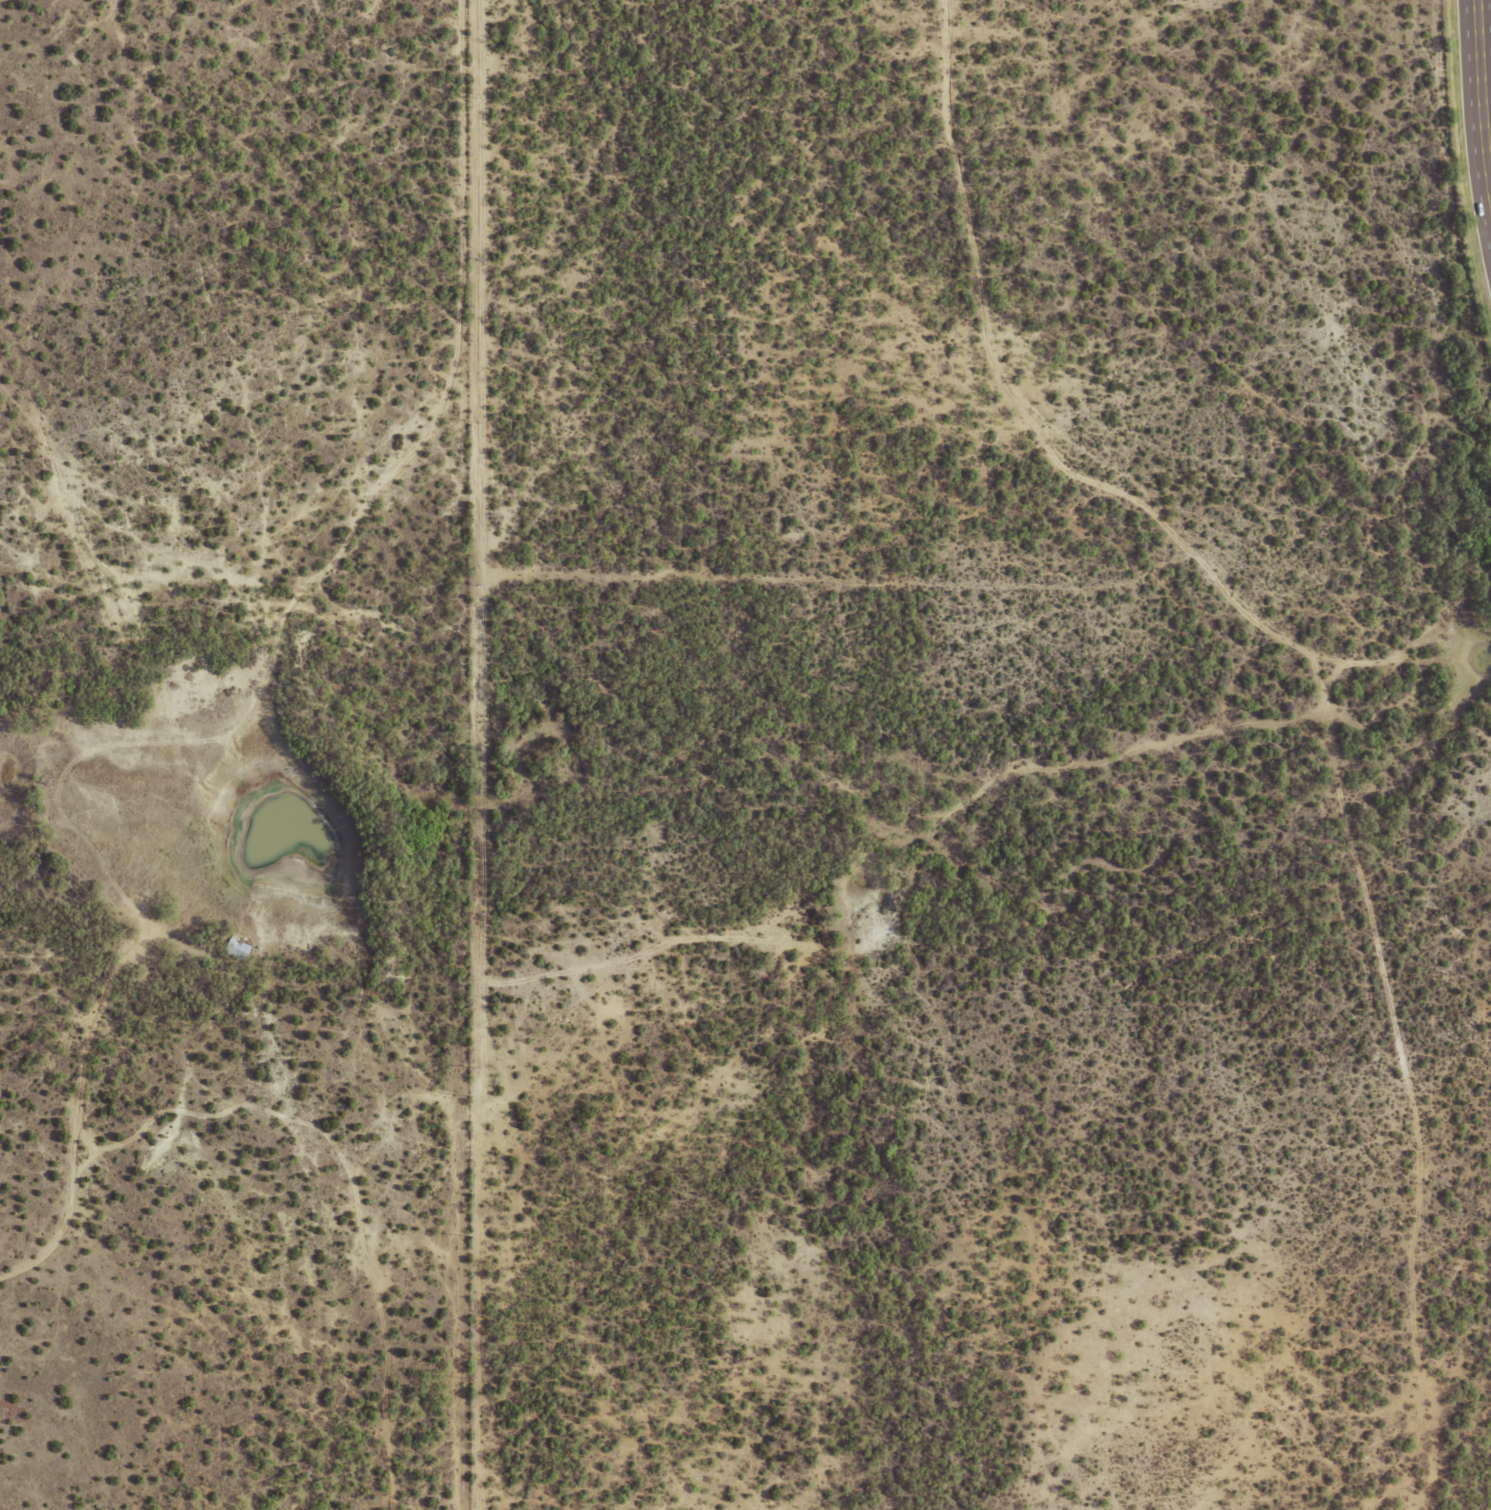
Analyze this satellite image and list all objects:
road: (1480, 99)

